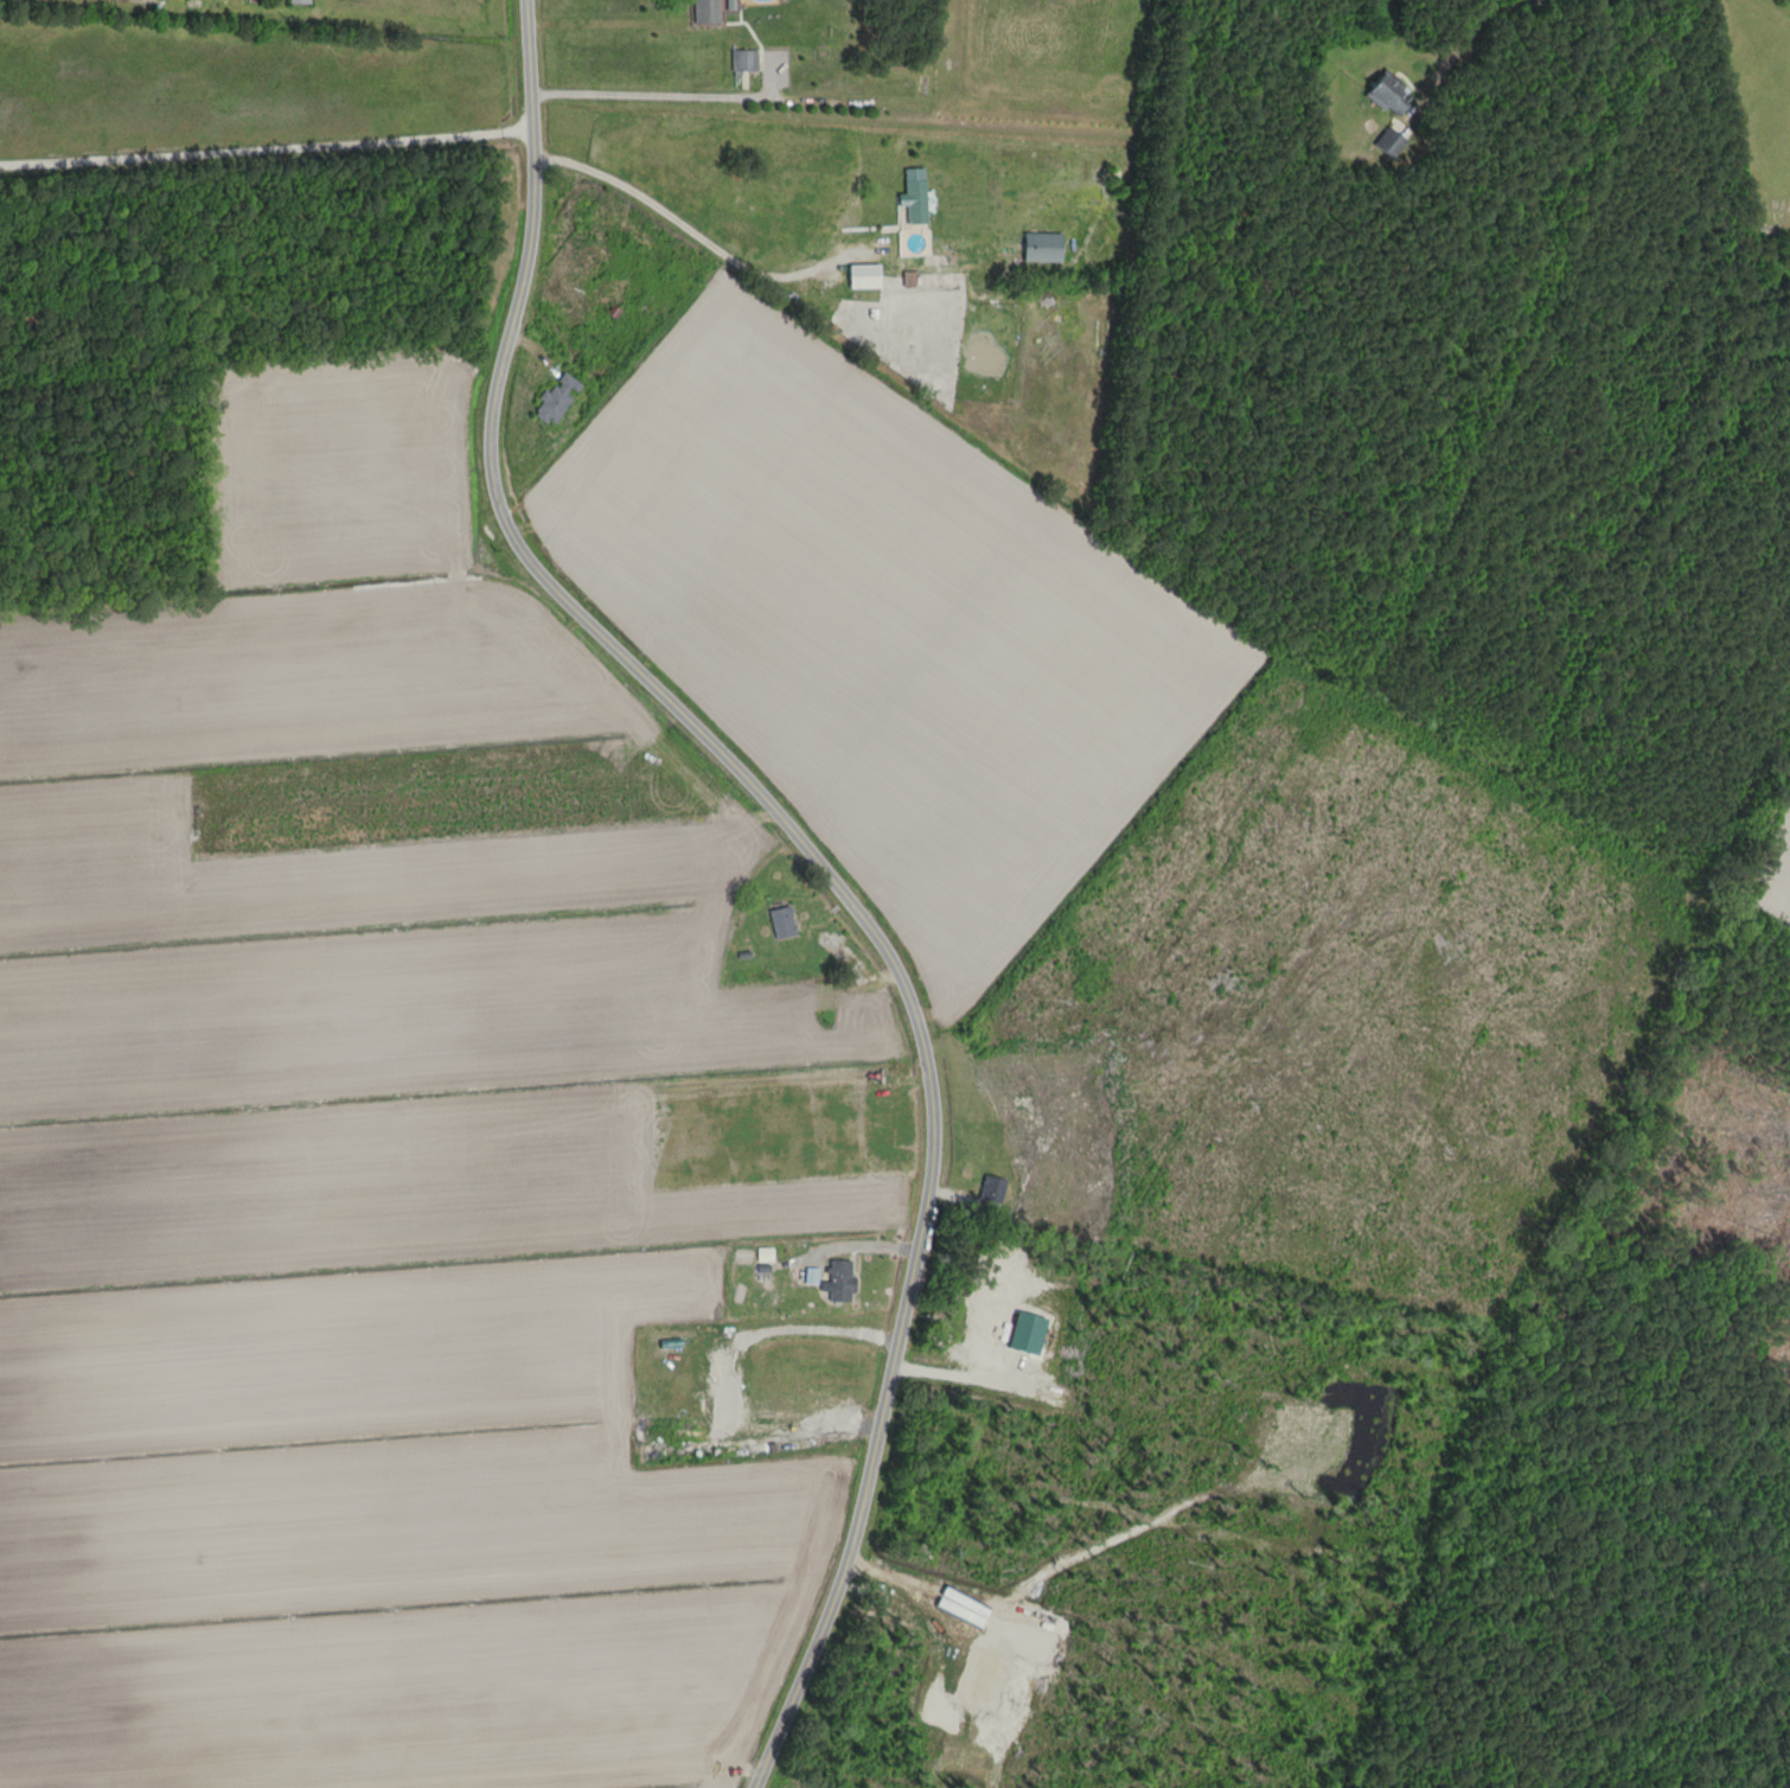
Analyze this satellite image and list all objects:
building: (299, 1)
building: (704, 12)
building: (743, 60)
road: (656, 95)
building: (1389, 95)
building: (1389, 142)
building: (914, 197)
road: (682, 223)
building: (932, 273)
building: (863, 276)
building: (557, 400)
road: (816, 855)
building: (782, 921)
building: (481, 1072)
building: (991, 1189)
building: (840, 1281)
road: (814, 1327)
road: (955, 1373)
building: (725, 1396)

